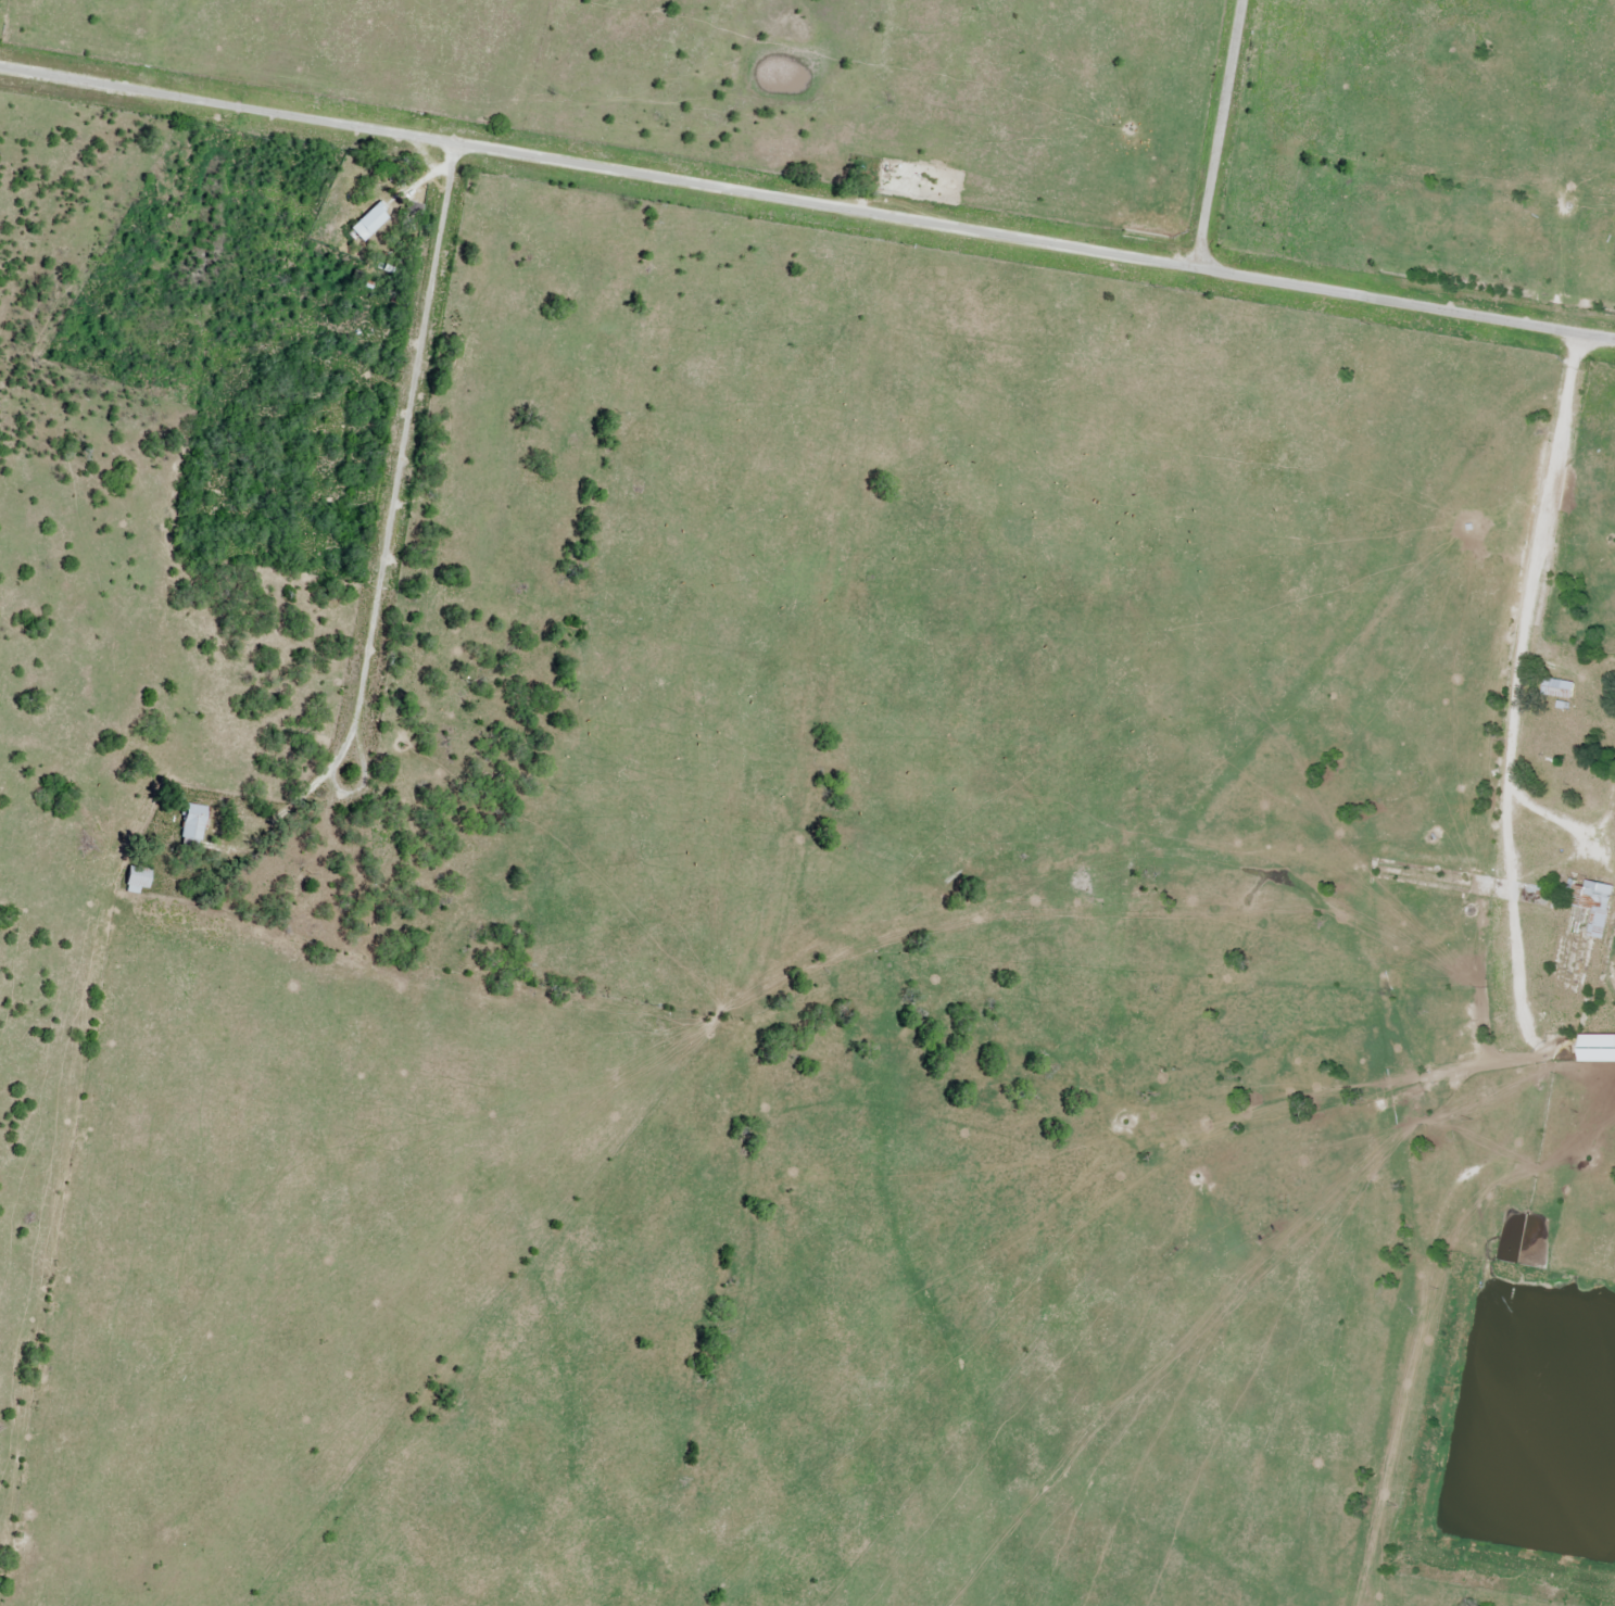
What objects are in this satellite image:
road: (1216, 134)
road: (807, 202)
building: (369, 222)
road: (391, 515)
road: (1523, 628)
building: (1560, 688)
building: (1543, 769)
building: (1587, 780)
building: (193, 823)
building: (138, 881)
building: (1594, 902)
building: (1600, 1049)

